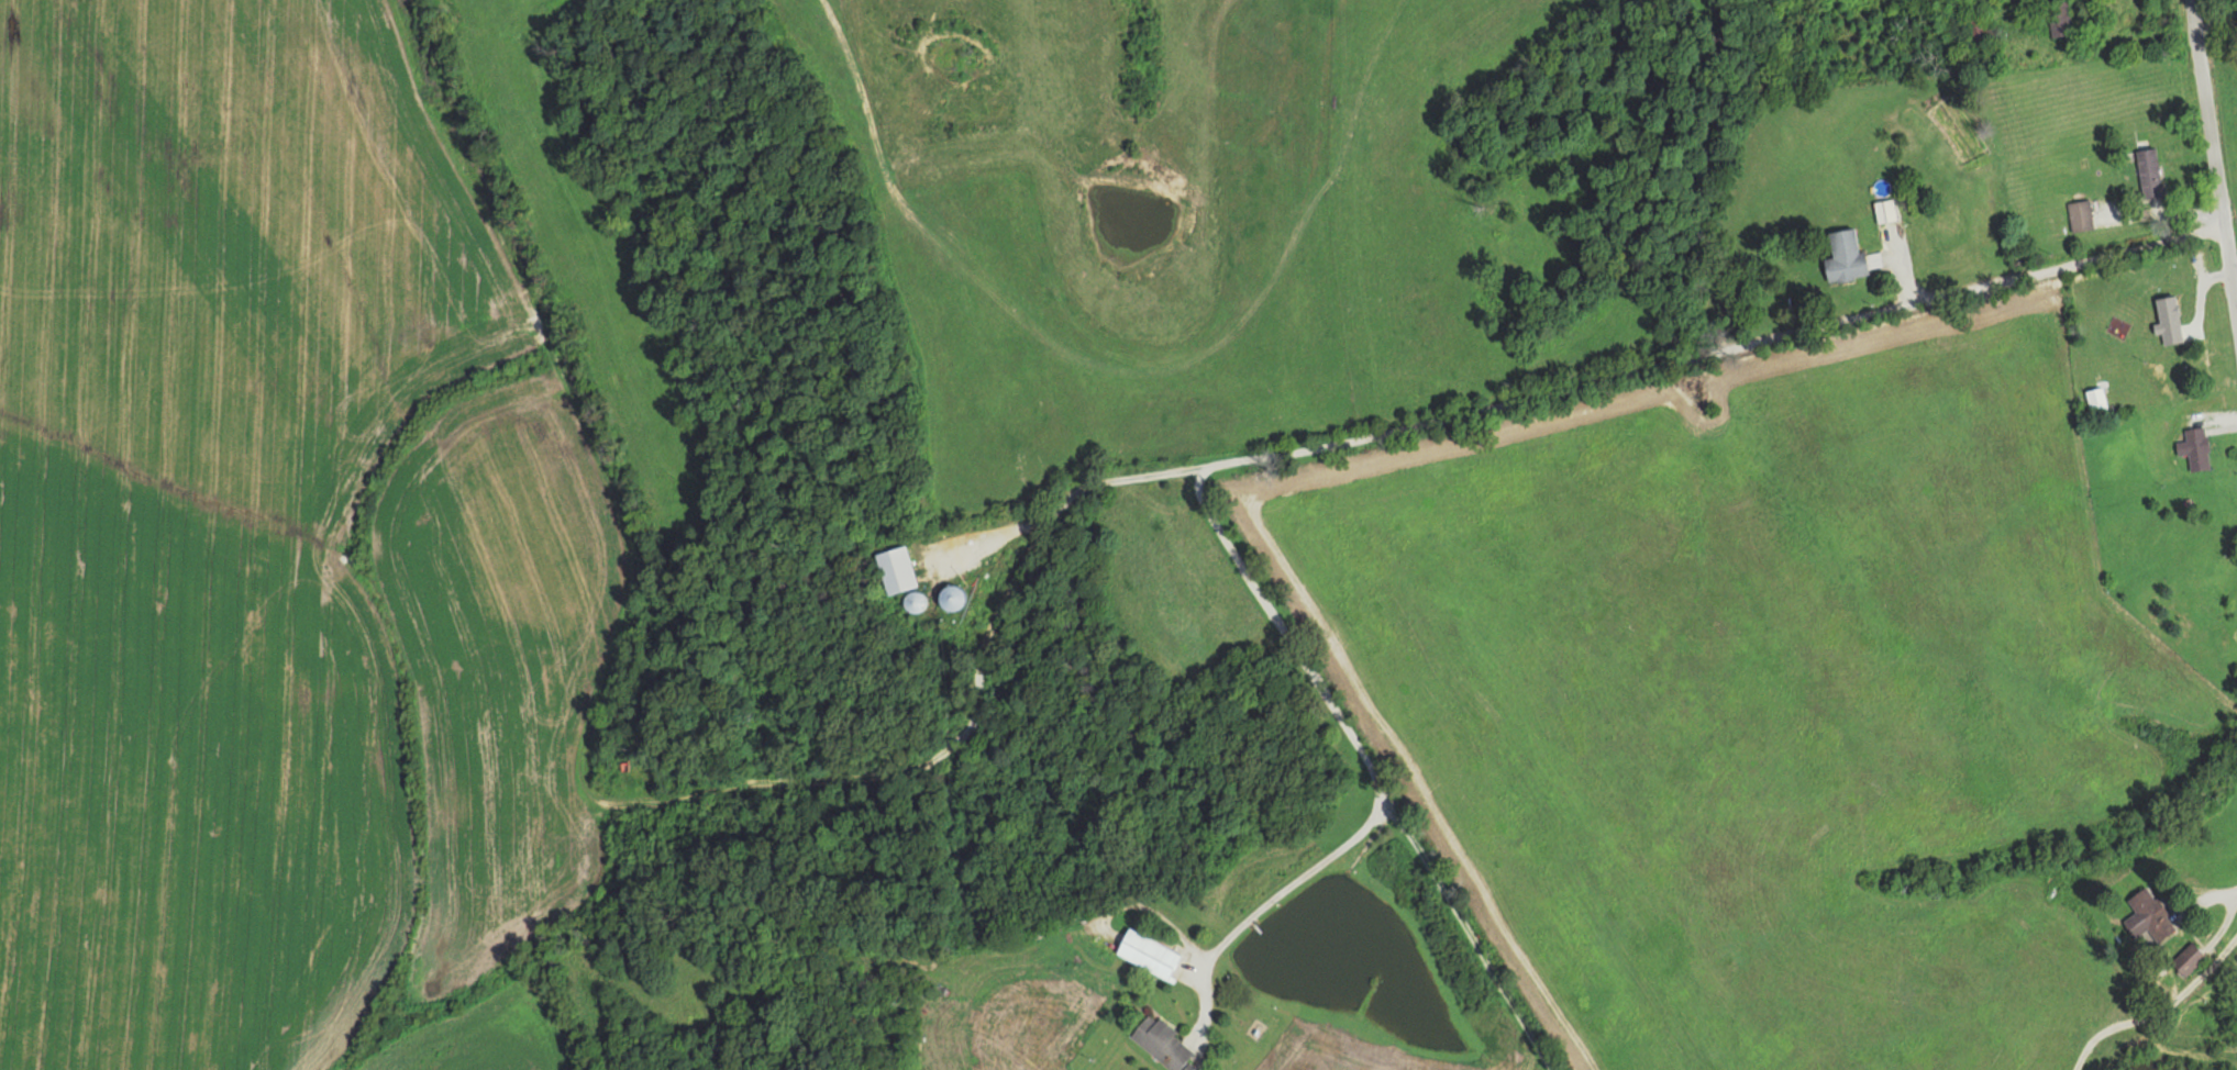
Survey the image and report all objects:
building: (2057, 20)
building: (1975, 26)
building: (2147, 171)
building: (1883, 211)
building: (2078, 214)
road: (2217, 241)
building: (1842, 256)
building: (2166, 315)
road: (1781, 383)
building: (2094, 399)
building: (2193, 447)
building: (894, 569)
building: (949, 598)
building: (910, 602)
building: (2148, 915)
building: (1147, 954)
building: (2186, 958)
building: (1160, 1043)

